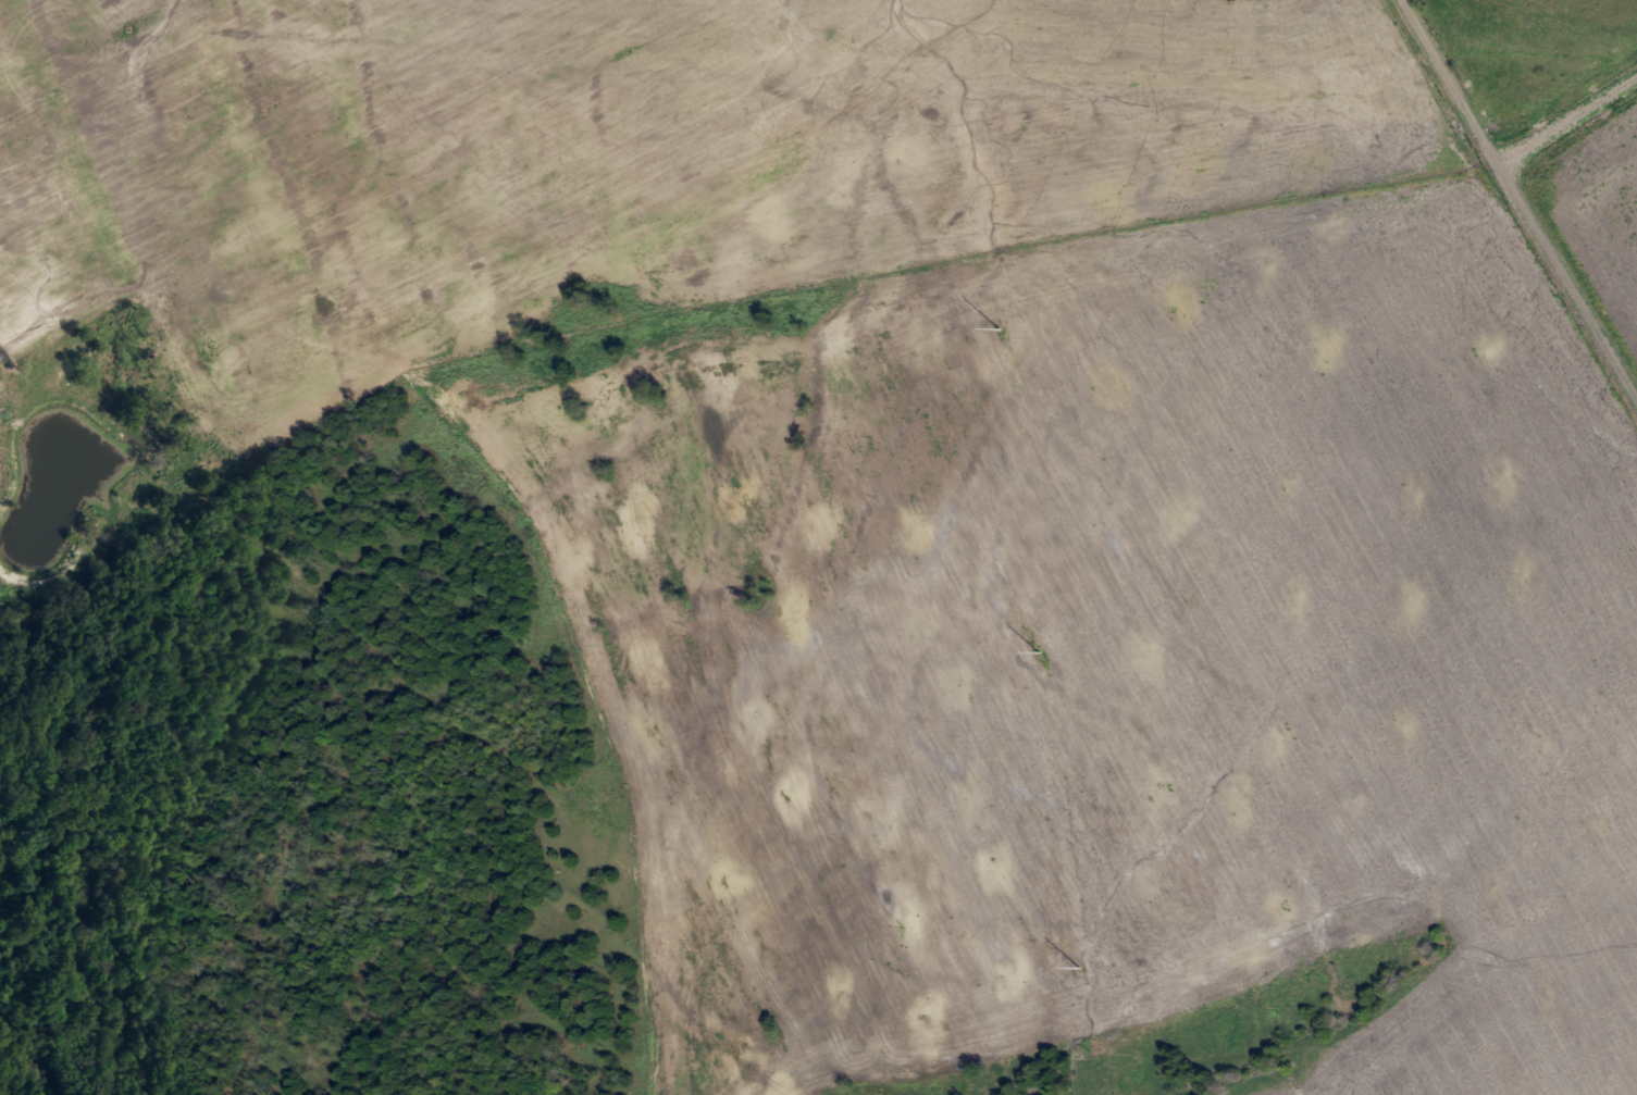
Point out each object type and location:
road: (1450, 83)
road: (1566, 124)
road: (1565, 289)
power tower: (999, 326)
power tower: (1038, 648)
power tower: (1078, 965)

